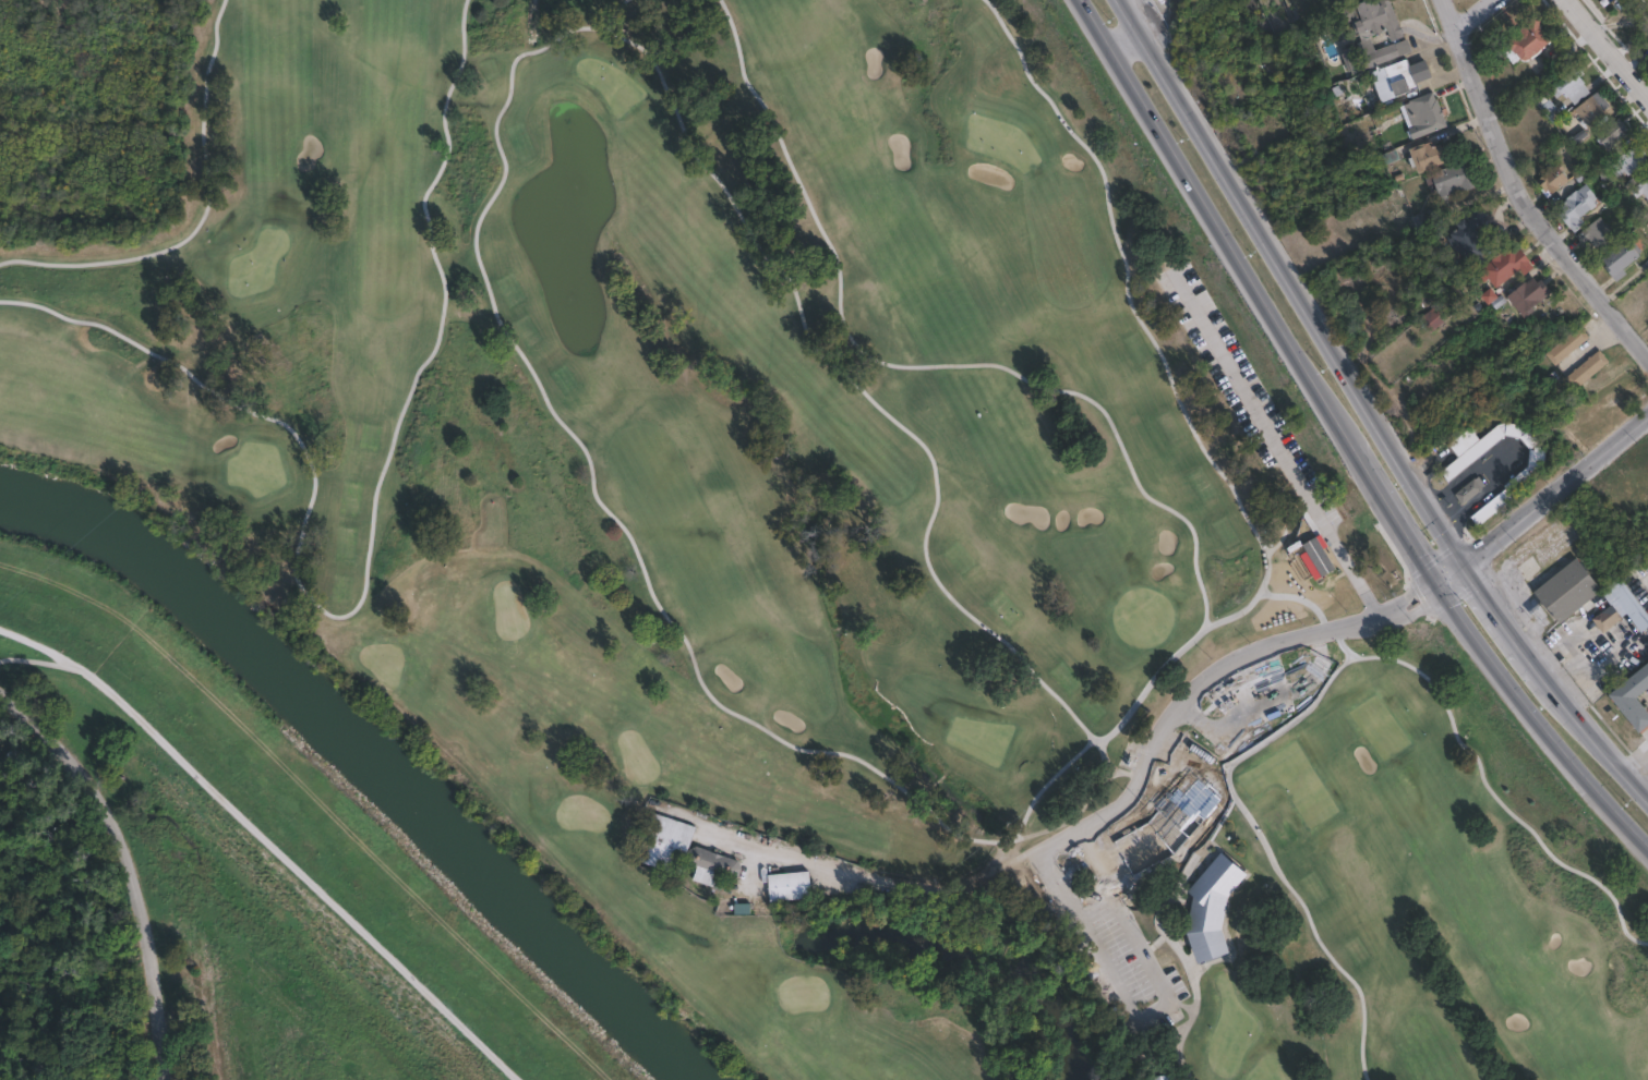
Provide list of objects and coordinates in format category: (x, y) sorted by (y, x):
building: (1597, 0)
road: (1467, 15)
road: (1121, 36)
building: (1375, 36)
building: (1529, 43)
road: (1605, 54)
building: (1400, 80)
building: (1573, 85)
building: (1548, 107)
building: (1592, 109)
building: (1427, 117)
building: (1613, 133)
building: (1429, 157)
building: (1632, 161)
building: (1455, 180)
building: (1554, 181)
road: (1521, 183)
building: (1641, 190)
building: (1578, 207)
building: (1422, 219)
road: (1215, 225)
building: (1599, 235)
building: (1469, 241)
building: (1622, 260)
building: (1502, 270)
road: (1285, 281)
building: (1526, 296)
building: (1433, 318)
building: (1569, 347)
building: (1590, 371)
road: (236, 403)
building: (1584, 421)
road: (1284, 437)
building: (1524, 477)
building: (1469, 492)
road: (1540, 500)
road: (1393, 514)
park: (833, 541)
traffic signals: (1461, 561)
traffic signals: (1434, 583)
building: (1568, 591)
building: (1608, 618)
road: (1503, 624)
road: (34, 653)
road: (1488, 662)
road: (1202, 683)
building: (1634, 697)
building: (0, 732)
road: (1598, 744)
building: (16, 752)
river: (371, 755)
road: (1634, 757)
building: (8, 768)
road: (1597, 793)
building: (1171, 821)
road: (275, 836)
building: (665, 842)
road: (127, 865)
building: (713, 866)
road: (842, 866)
building: (791, 886)
road: (1093, 906)
building: (1214, 907)
road: (1134, 934)
road: (1117, 995)

